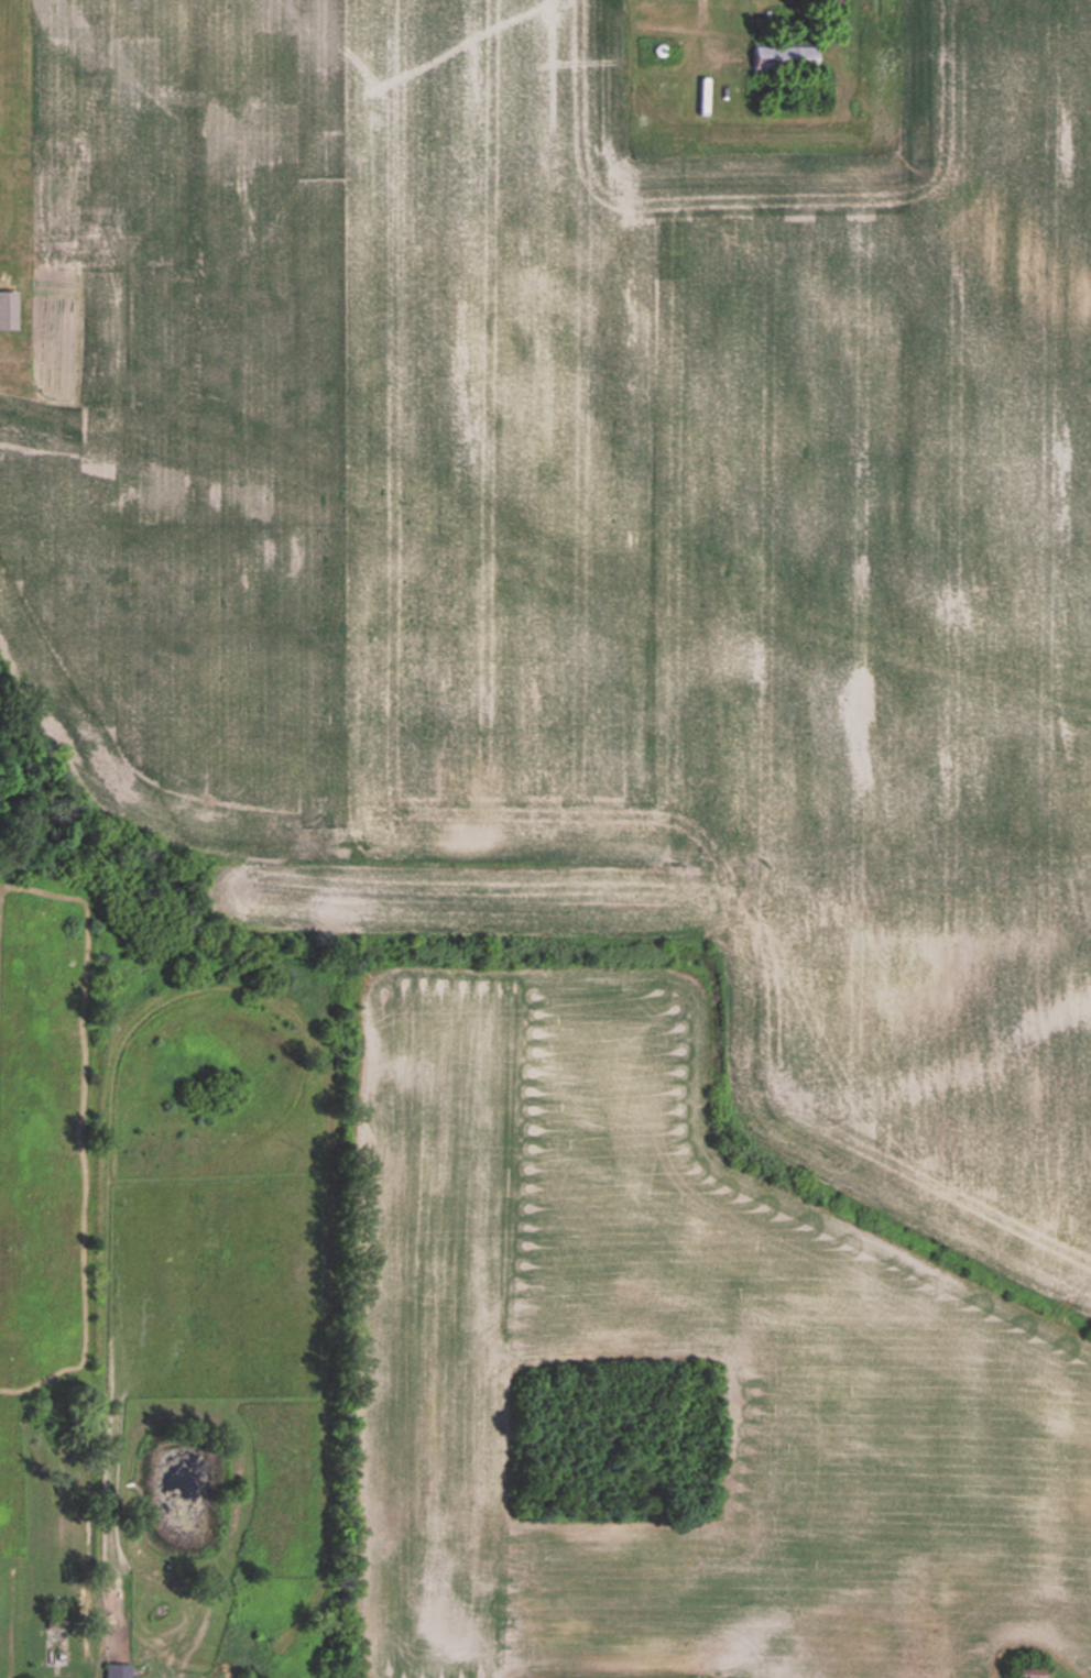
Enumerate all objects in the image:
building: (785, 61)
building: (8, 311)
building: (117, 1670)
building: (1028, 1674)

